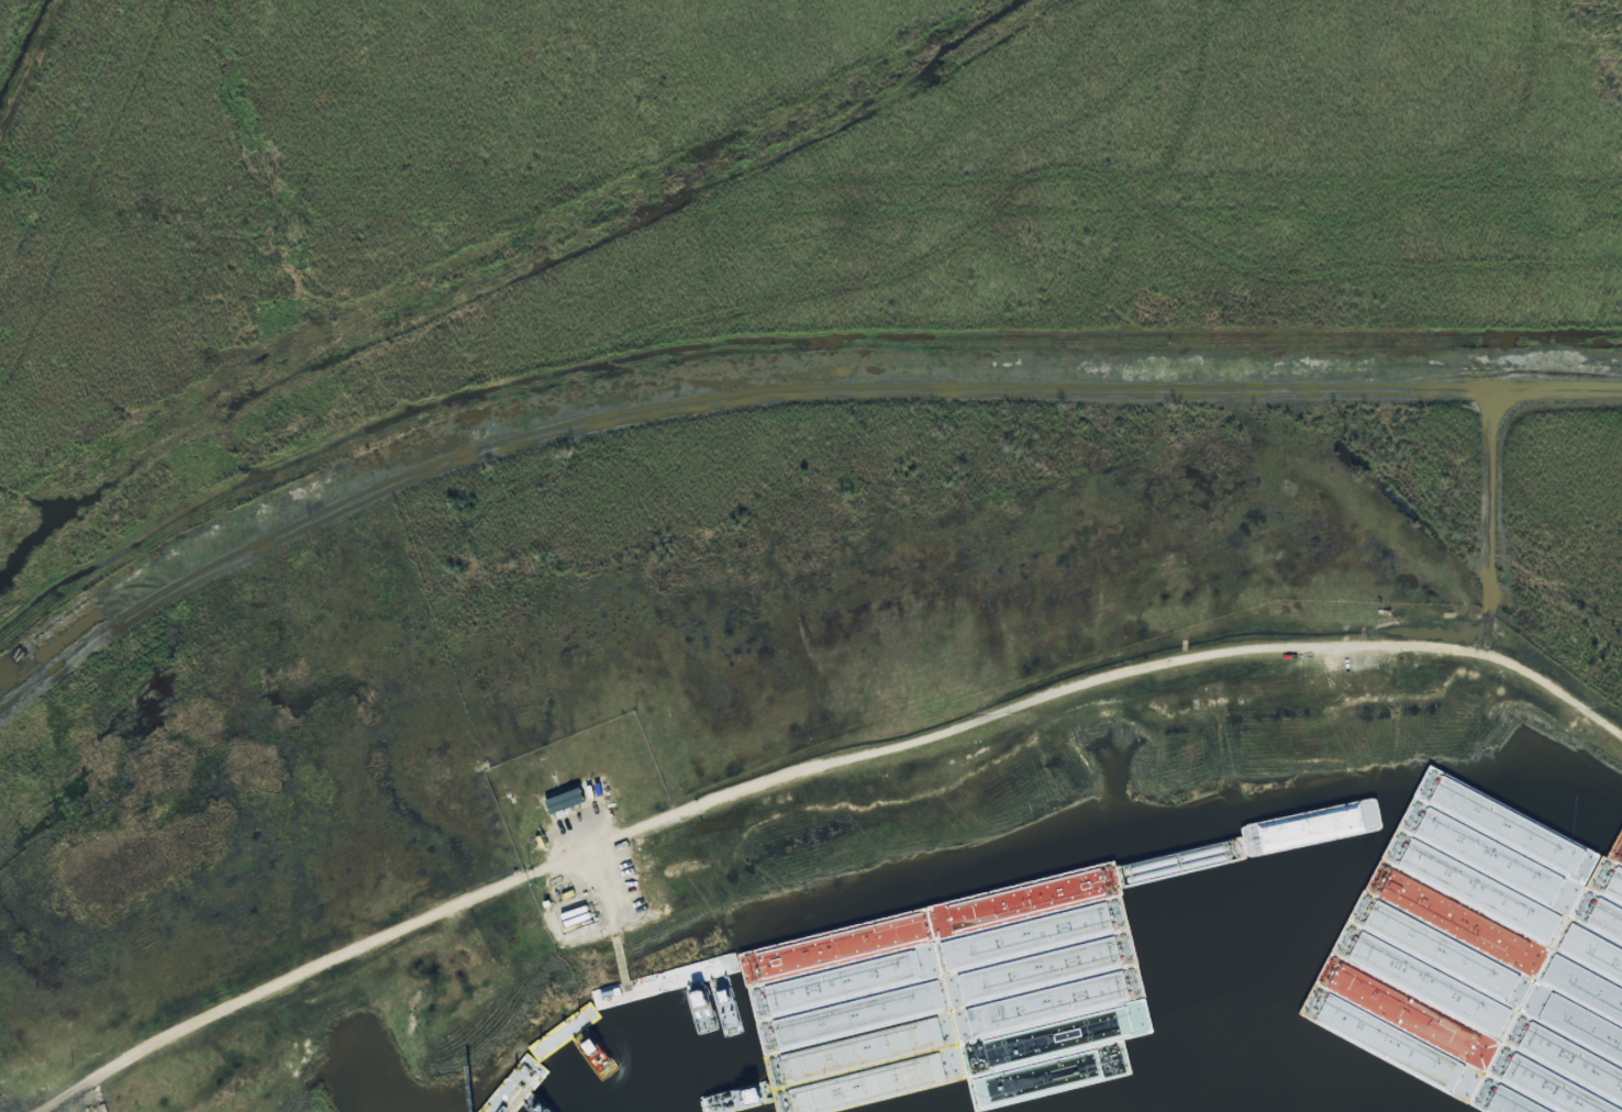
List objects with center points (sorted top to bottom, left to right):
road: (812, 768)
building: (564, 801)
building: (1133, 927)

